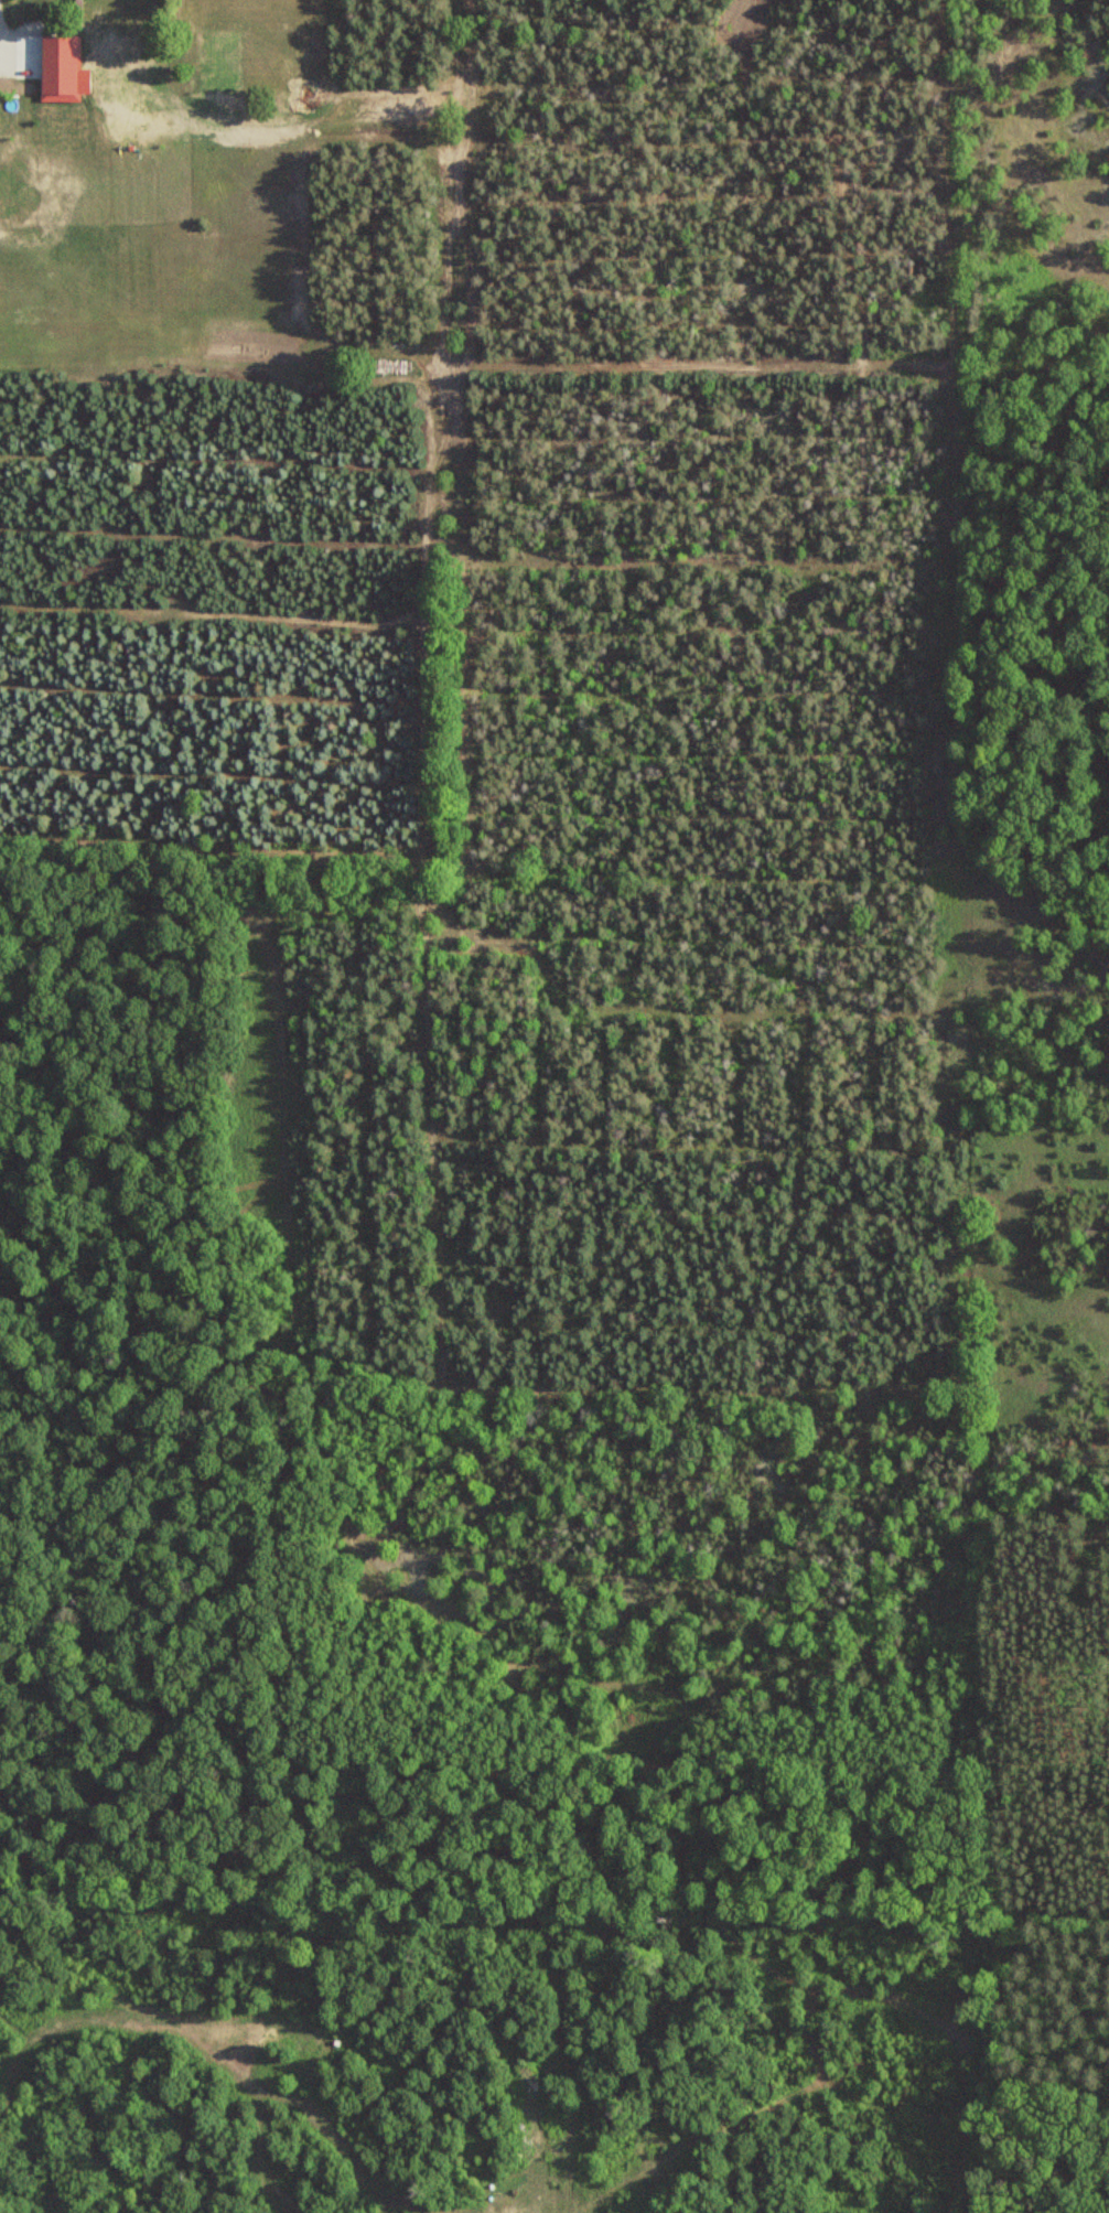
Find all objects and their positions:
building: (109, 84)

